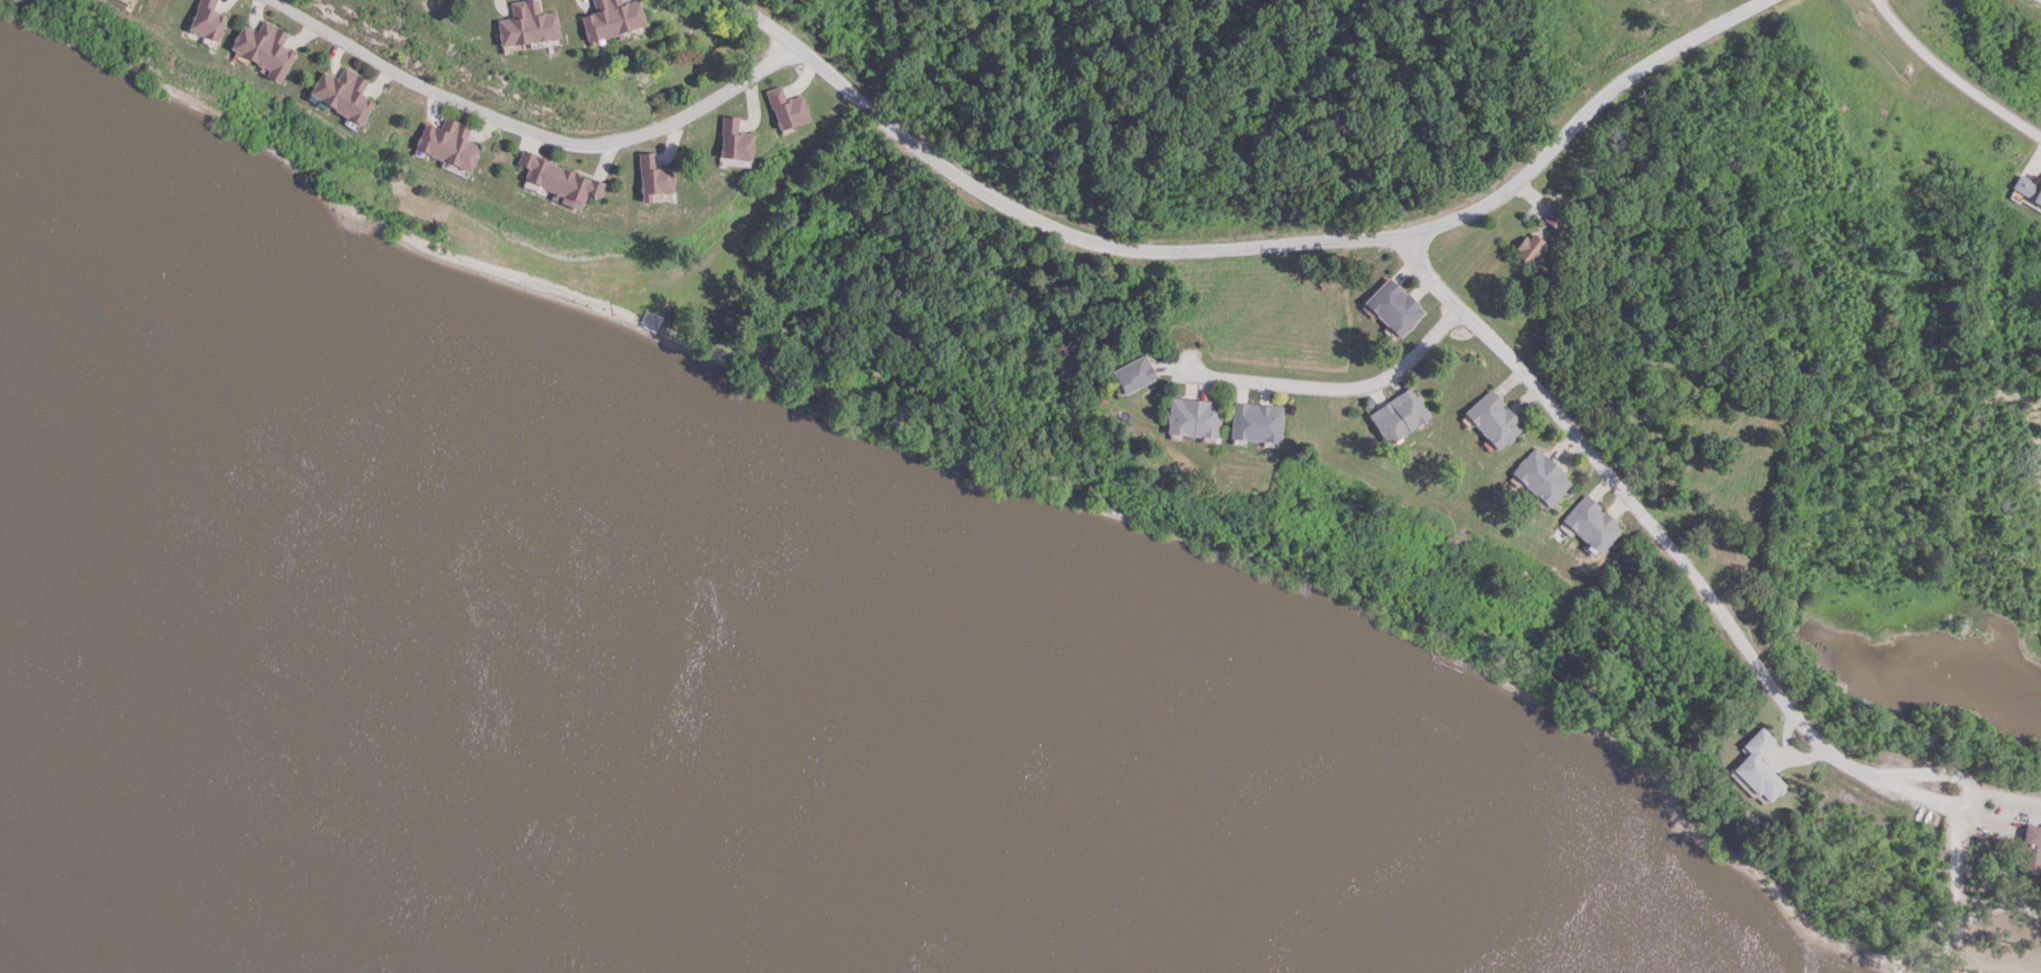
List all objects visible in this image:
building: (609, 18)
building: (205, 21)
building: (523, 23)
building: (261, 48)
road: (1950, 78)
building: (340, 94)
building: (784, 108)
road: (527, 131)
building: (731, 140)
building: (446, 144)
building: (651, 175)
building: (555, 180)
building: (2027, 188)
building: (1554, 217)
road: (1245, 248)
building: (1528, 249)
building: (1391, 307)
building: (1131, 374)
road: (1350, 390)
building: (1397, 414)
building: (1192, 417)
building: (1491, 419)
building: (1254, 422)
building: (1539, 476)
building: (1591, 524)
quarry: (1921, 569)
road: (1692, 574)
building: (1756, 768)
building: (2027, 849)

